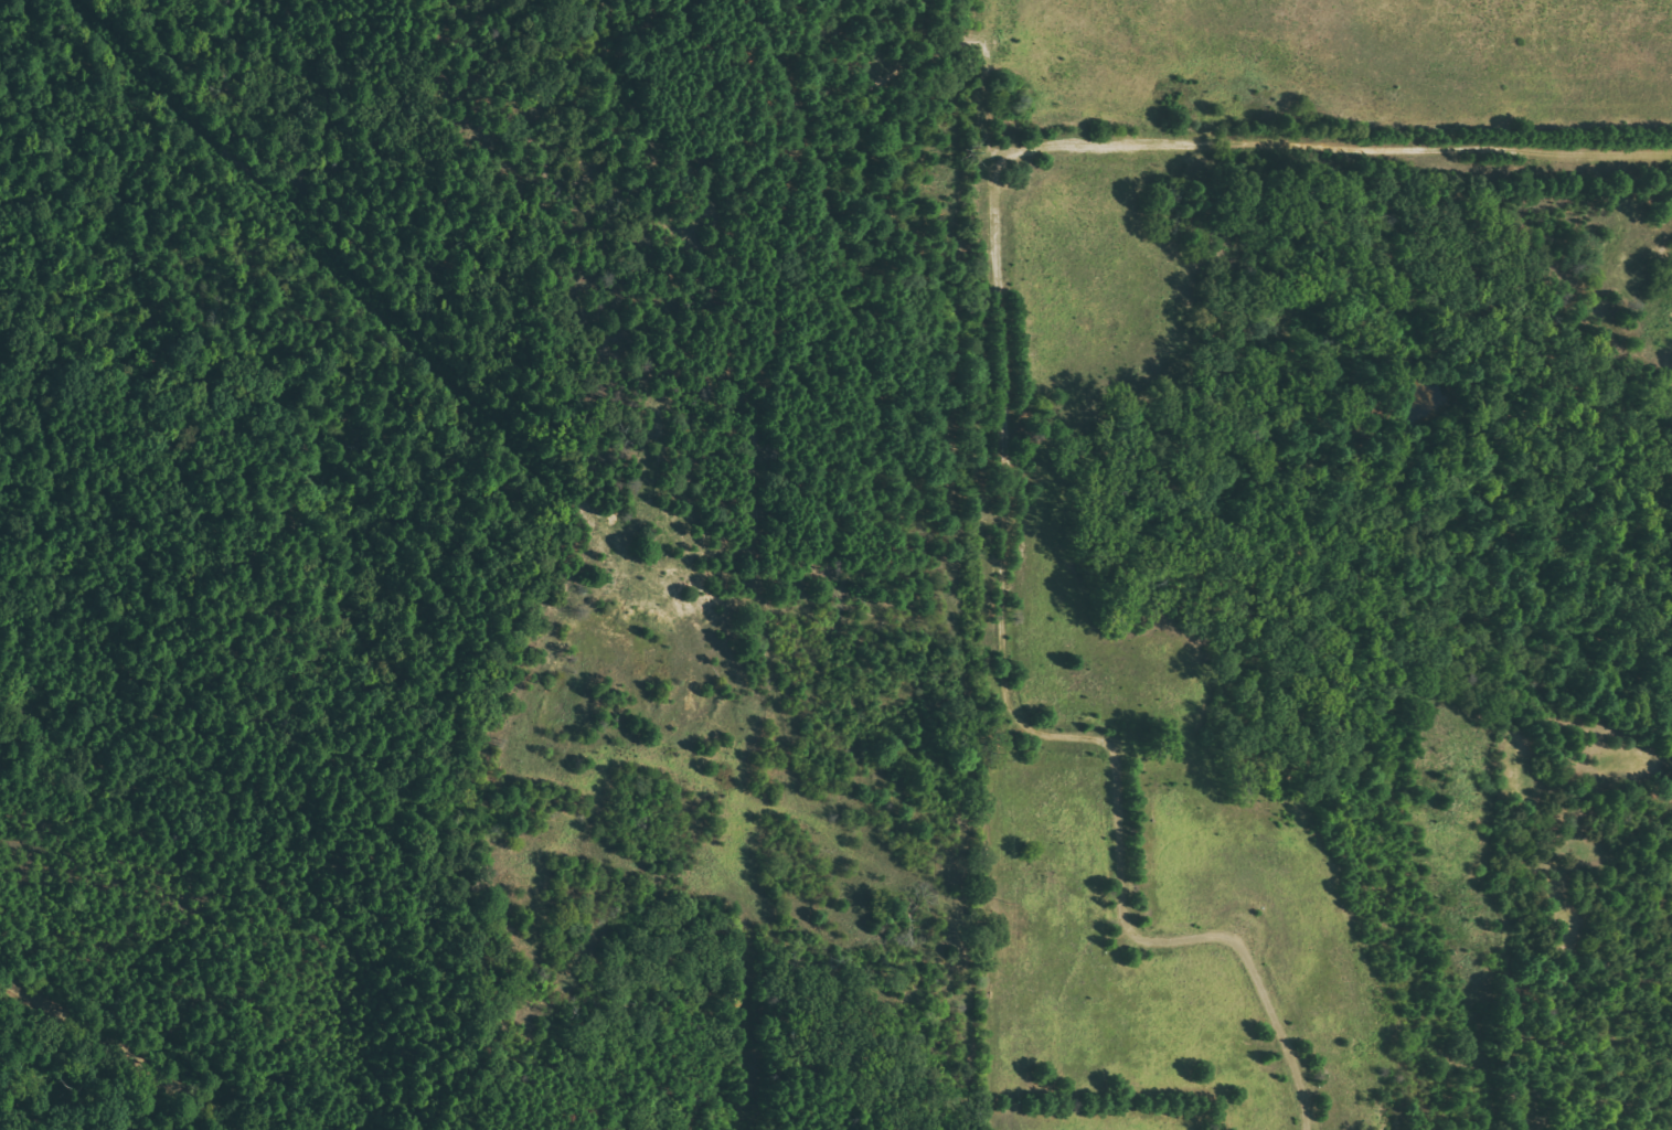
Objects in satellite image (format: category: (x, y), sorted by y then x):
road: (124, 1055)

